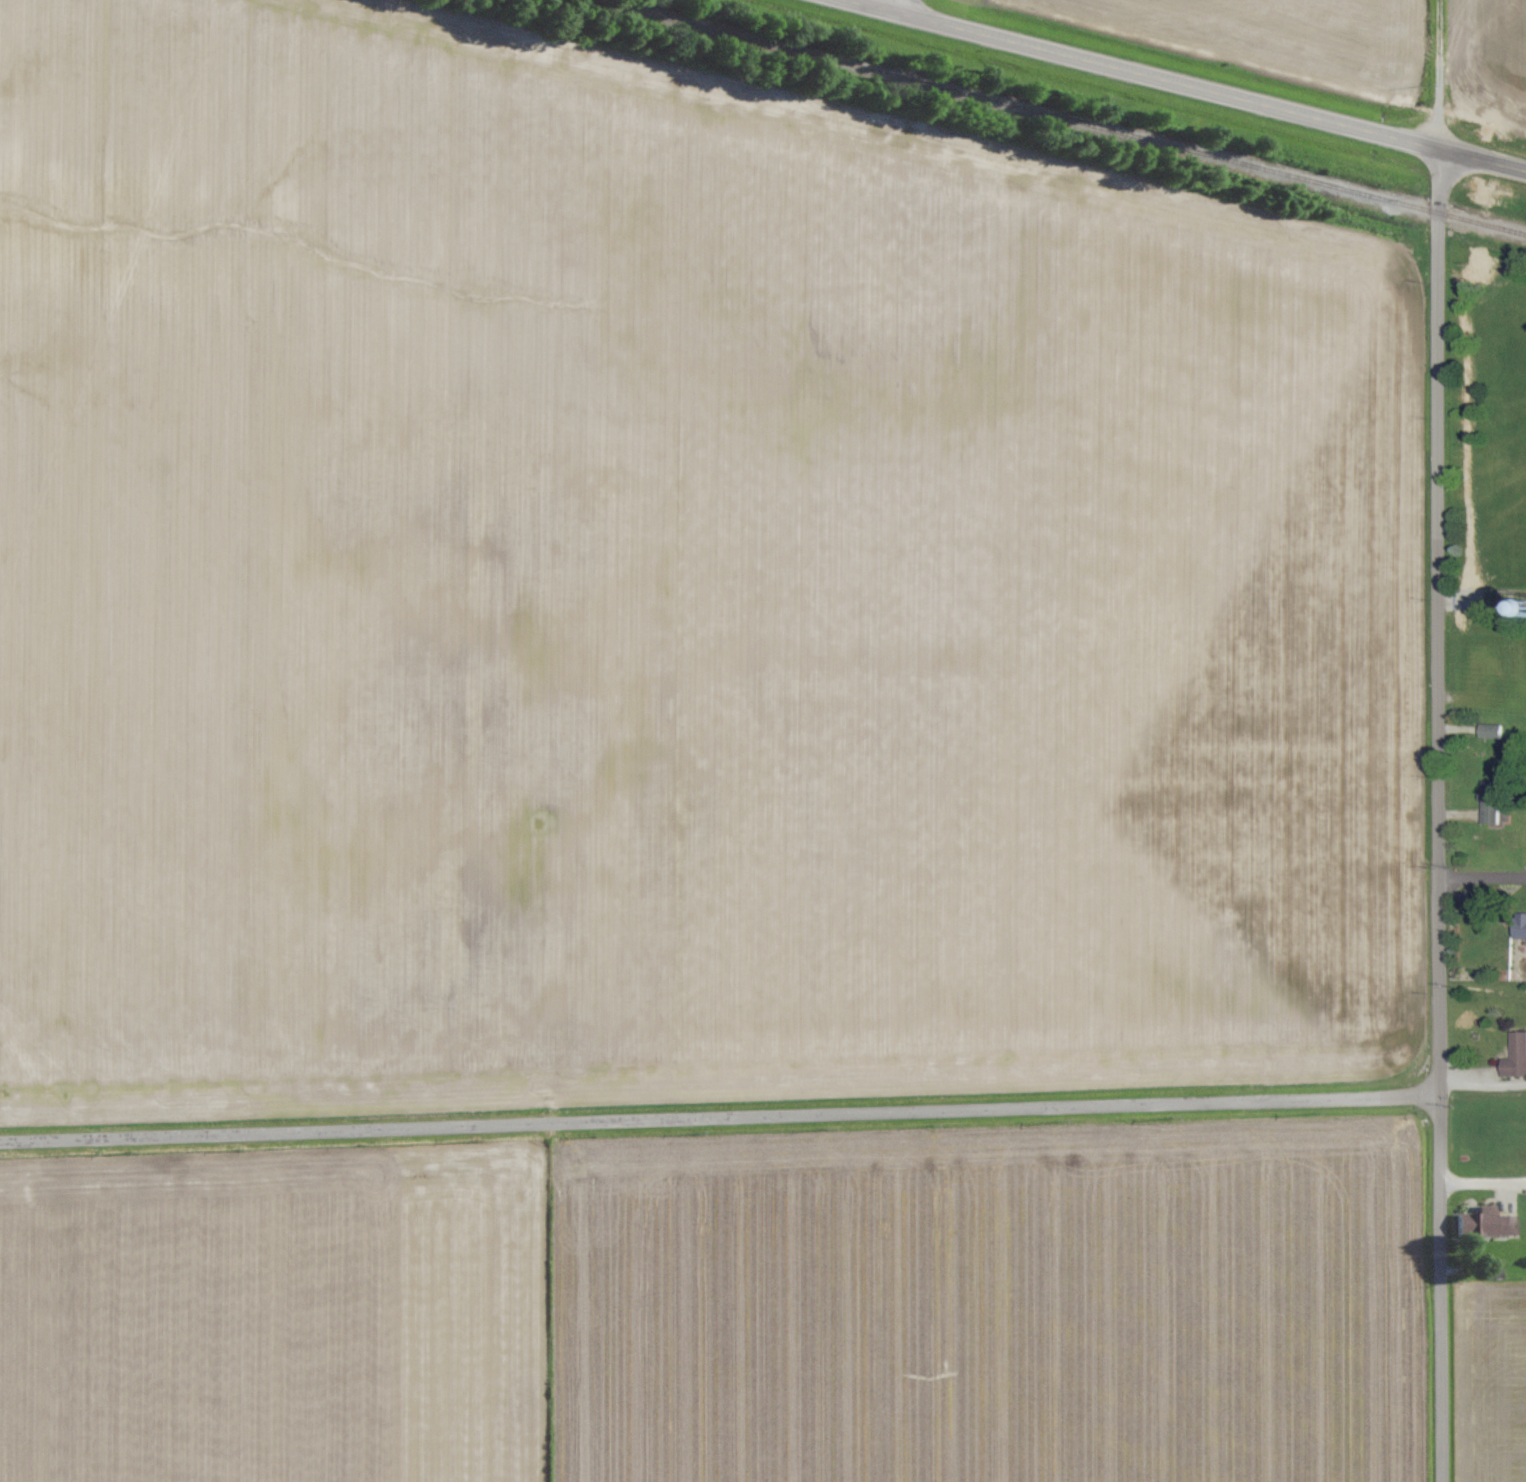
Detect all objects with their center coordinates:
road: (894, 8)
road: (1175, 87)
railway: (1054, 118)
building: (1472, 663)
building: (1485, 731)
building: (1485, 802)
road: (1433, 816)
road: (1480, 876)
building: (1516, 928)
building: (1512, 1056)
road: (718, 1118)
road: (1481, 1187)
building: (1478, 1221)

